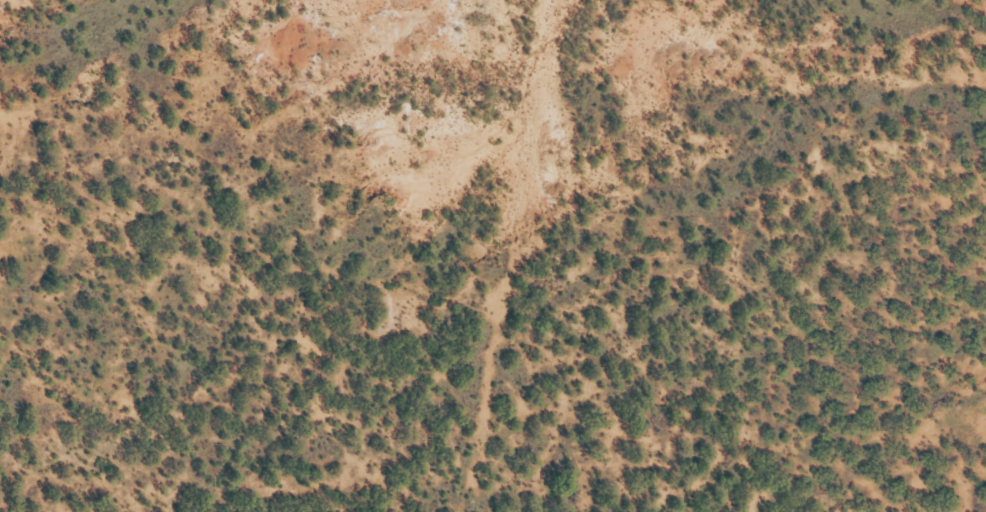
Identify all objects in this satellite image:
road: (413, 458)

